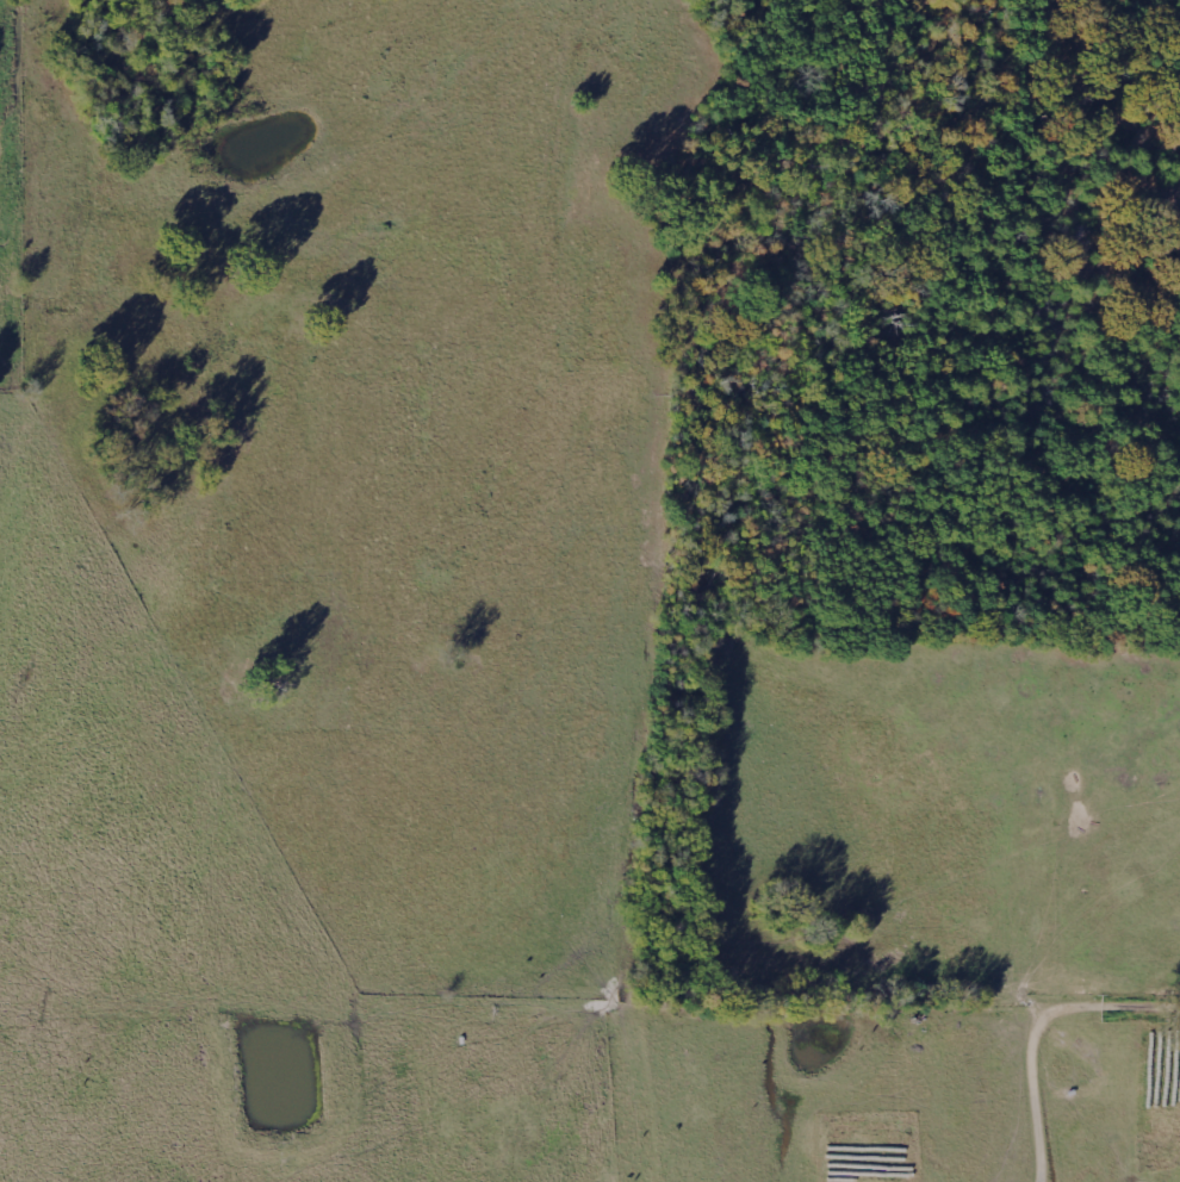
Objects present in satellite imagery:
road: (1154, 1010)

